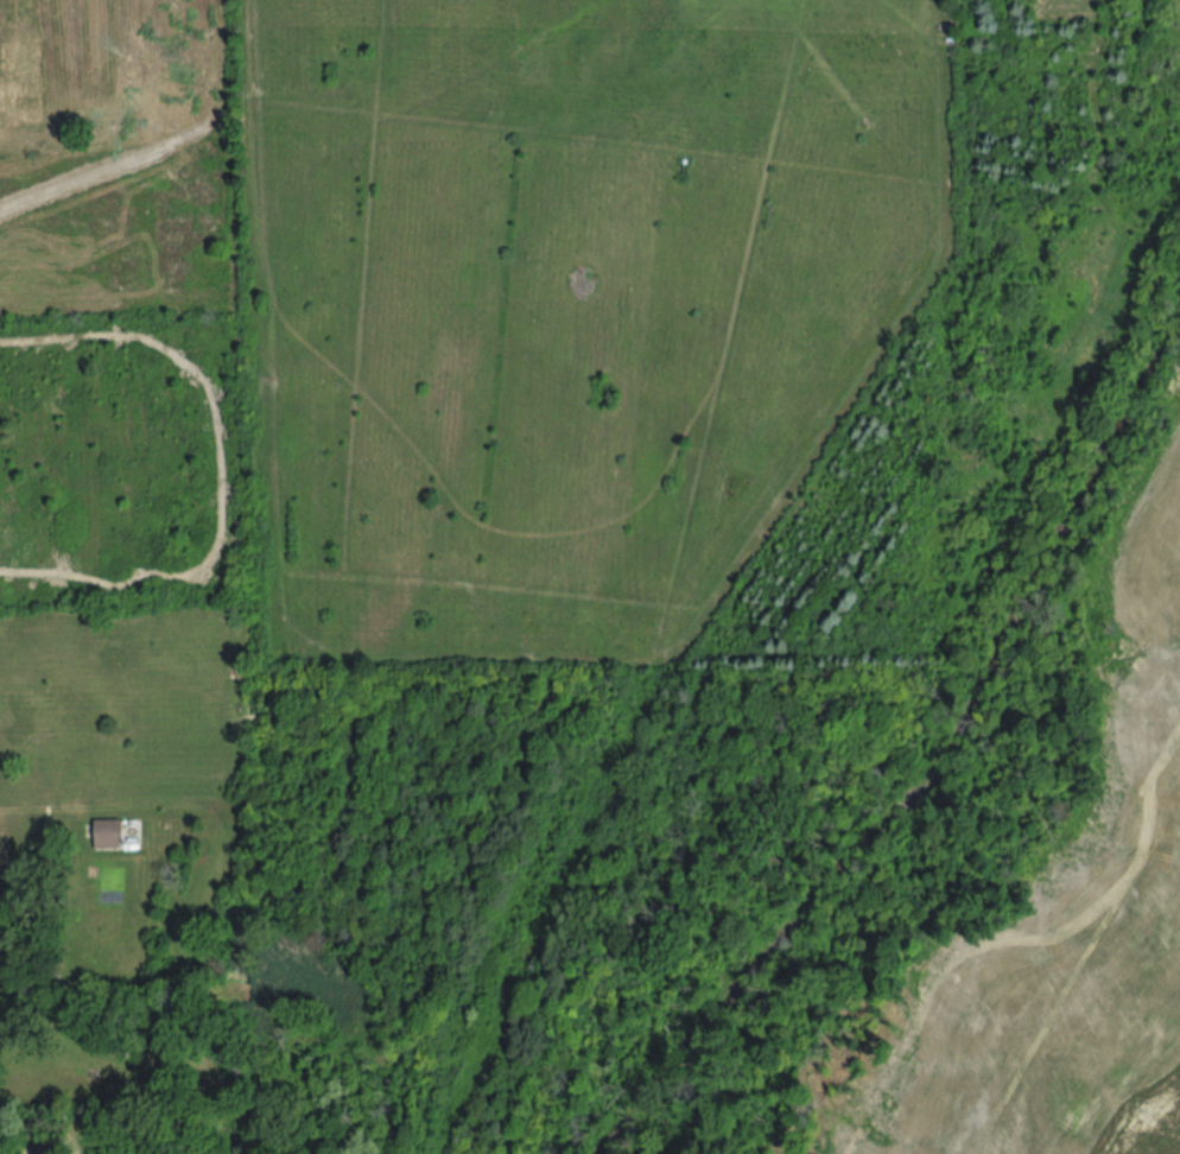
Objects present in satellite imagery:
building: (104, 832)

